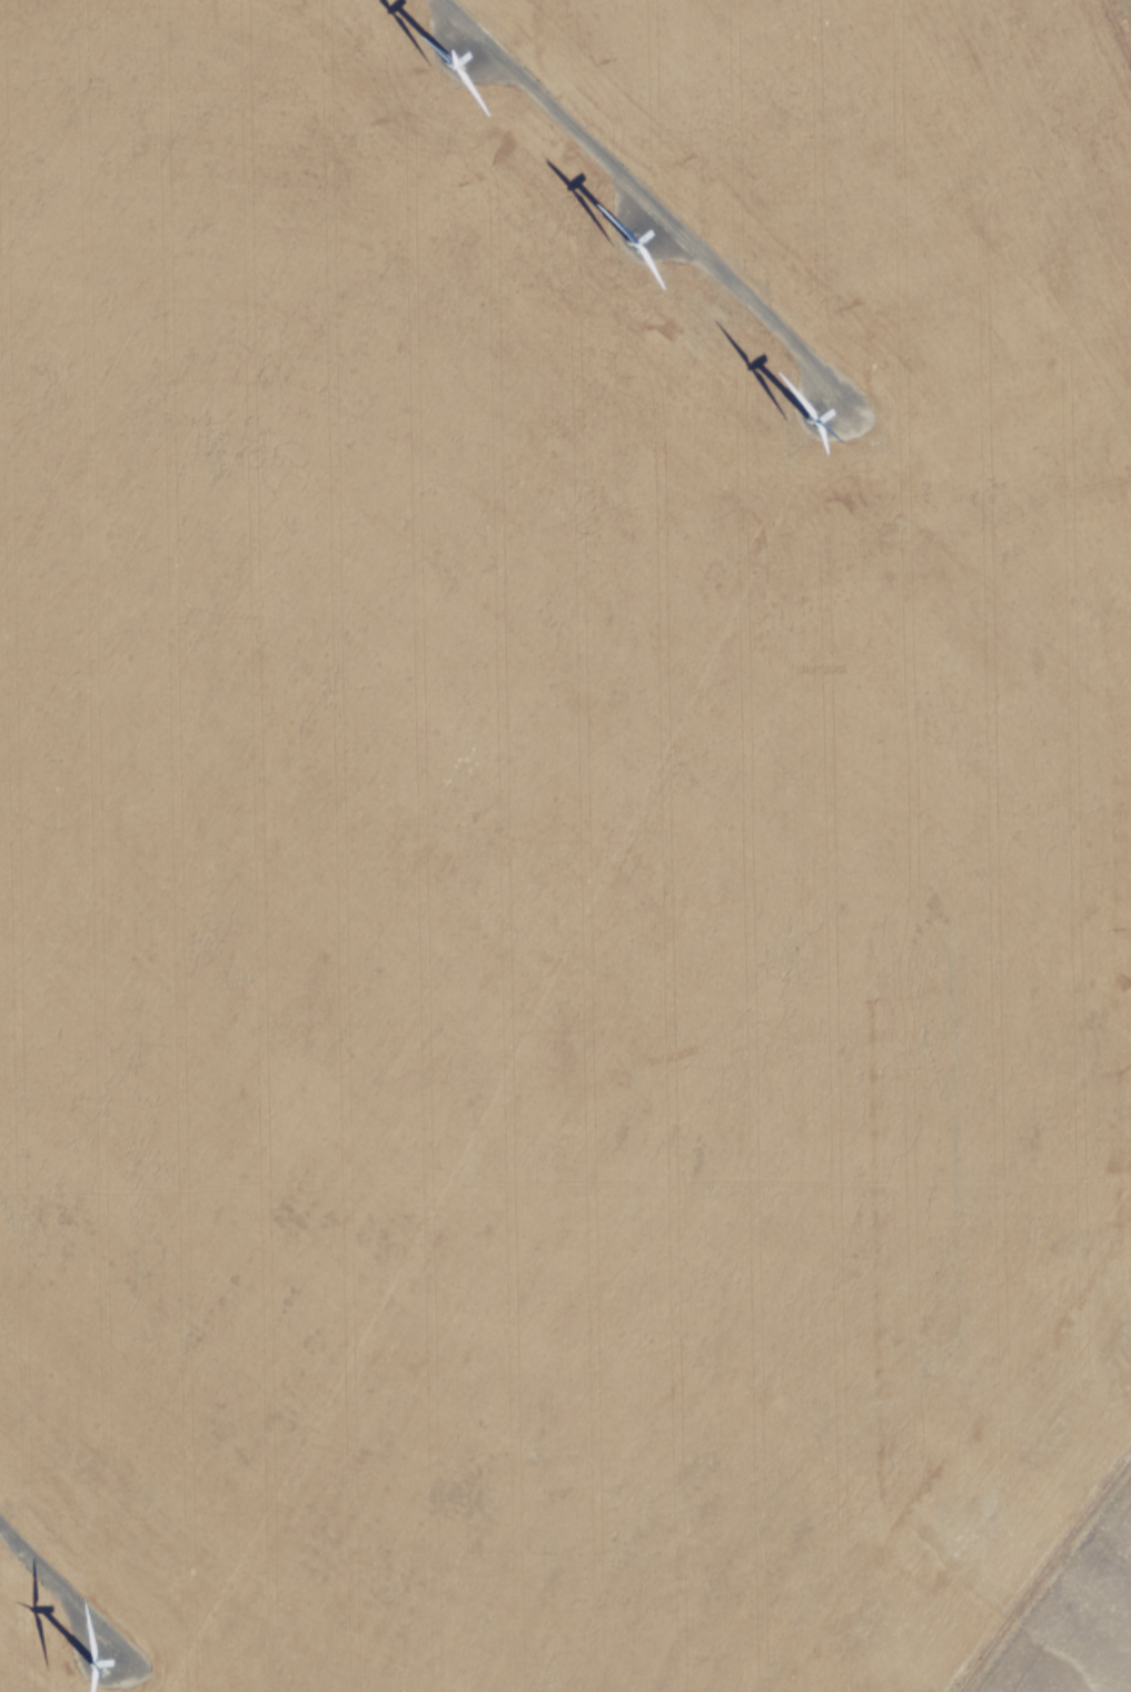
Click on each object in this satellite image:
wind turbine: (456, 53)
road: (647, 196)
wind turbine: (641, 234)
wind turbine: (830, 400)
road: (62, 1589)
wind turbine: (107, 1664)

